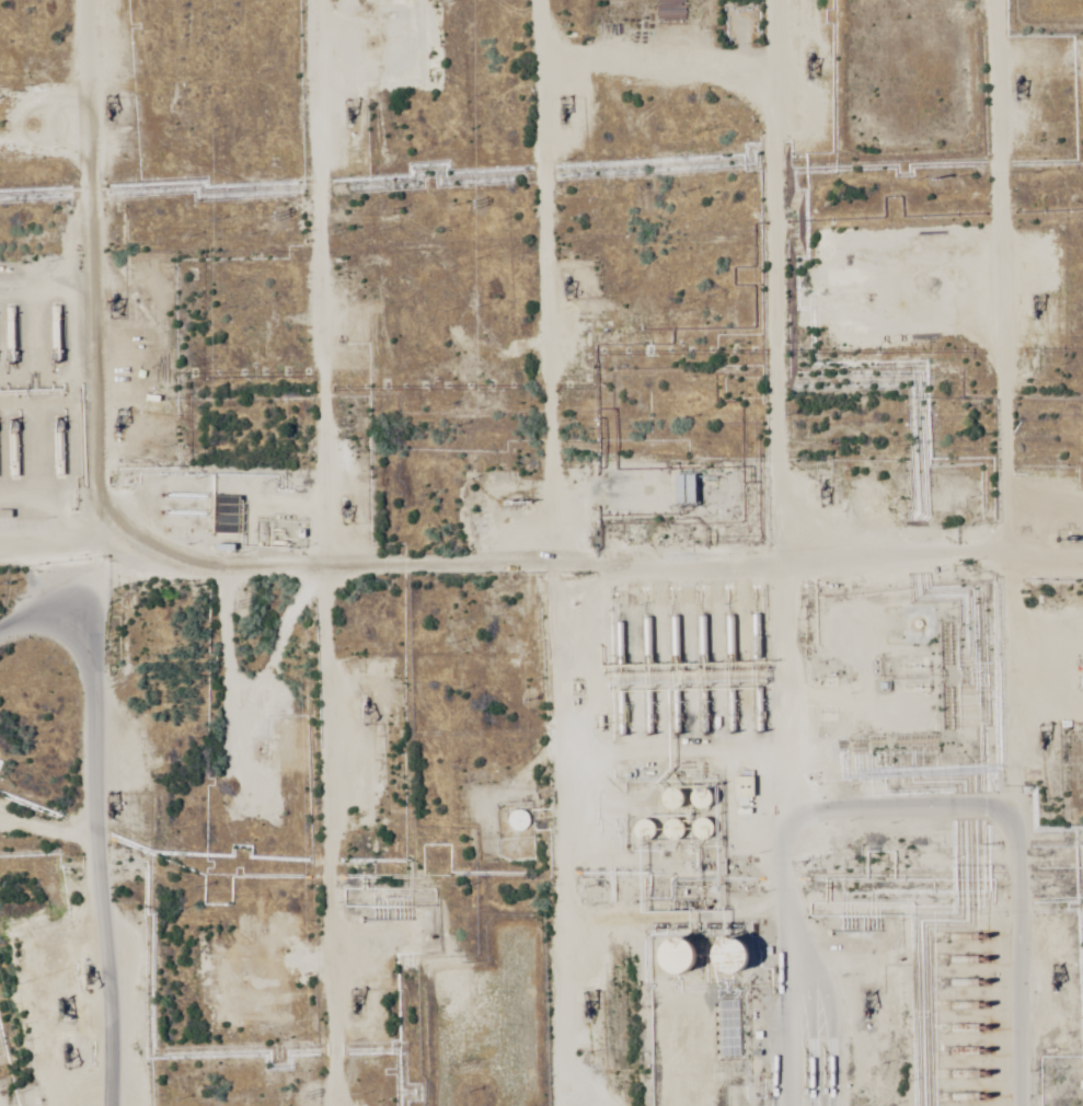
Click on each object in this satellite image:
road: (69, 291)
road: (135, 403)
road: (308, 551)
road: (538, 552)
road: (740, 553)
road: (995, 553)
road: (541, 587)
road: (48, 606)
building: (741, 790)
road: (101, 843)
building: (520, 851)

